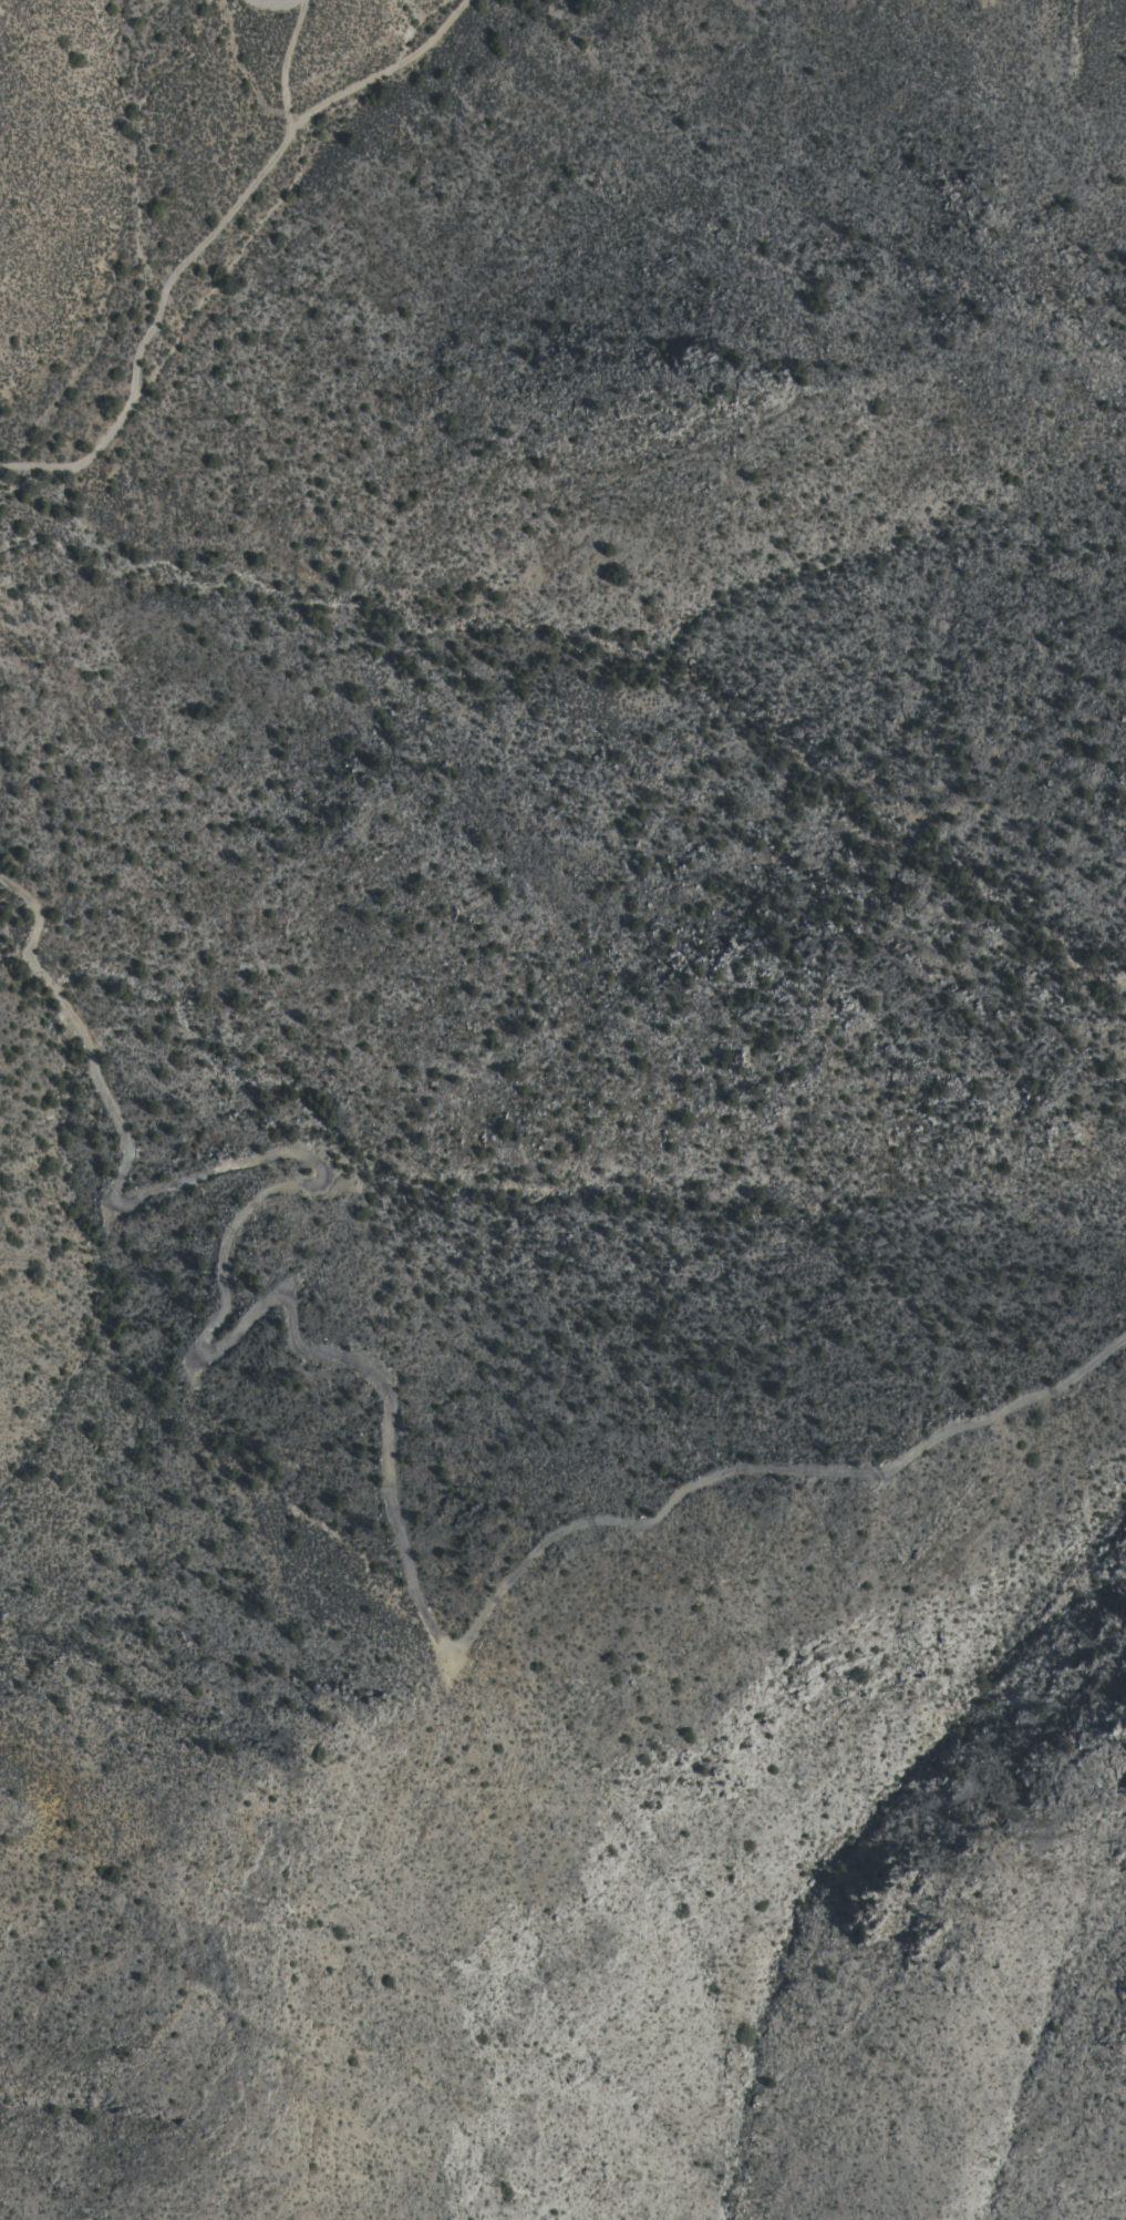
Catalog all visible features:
road: (272, 3)
road: (209, 232)
road: (351, 1361)

